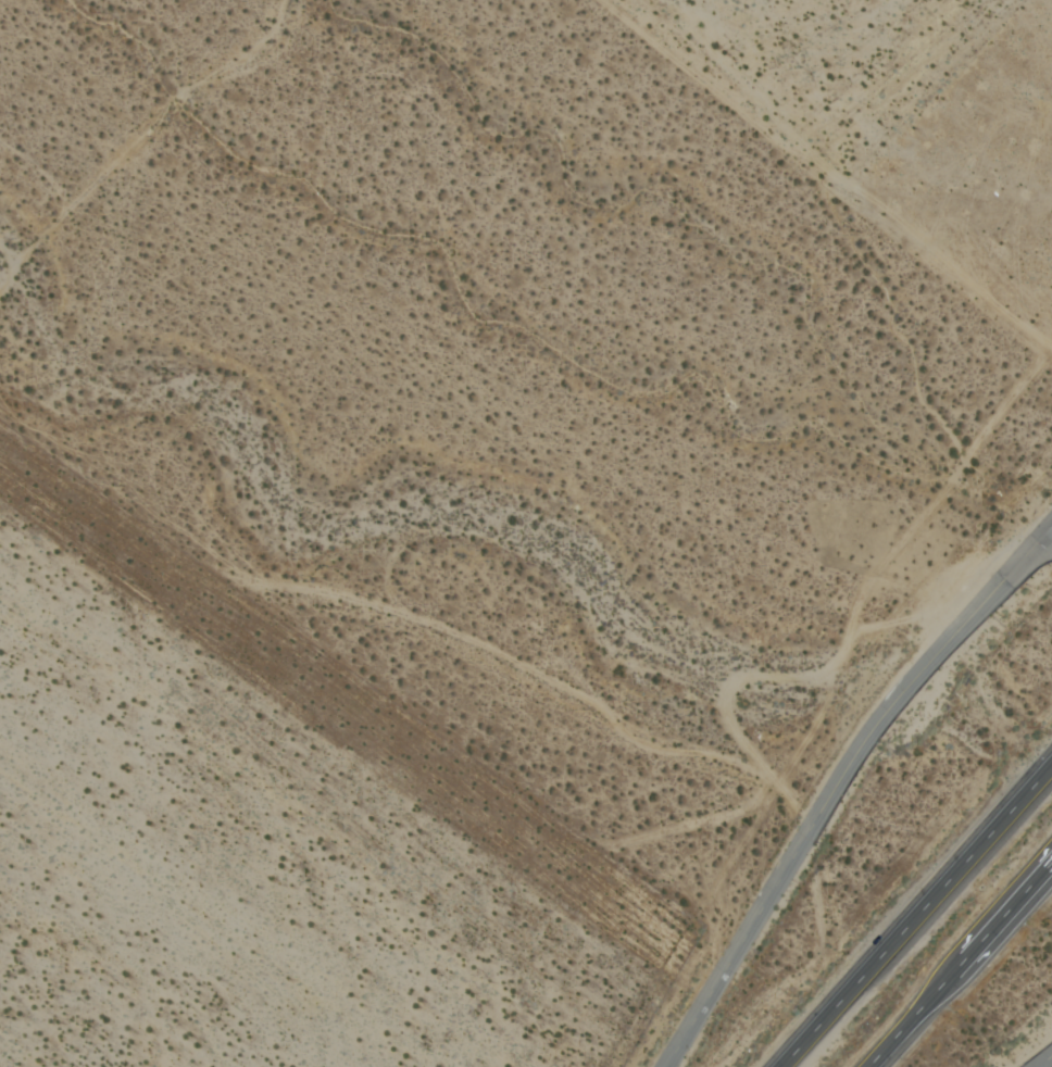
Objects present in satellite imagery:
road: (838, 781)
road: (917, 916)
road: (961, 965)
road: (1044, 1062)

